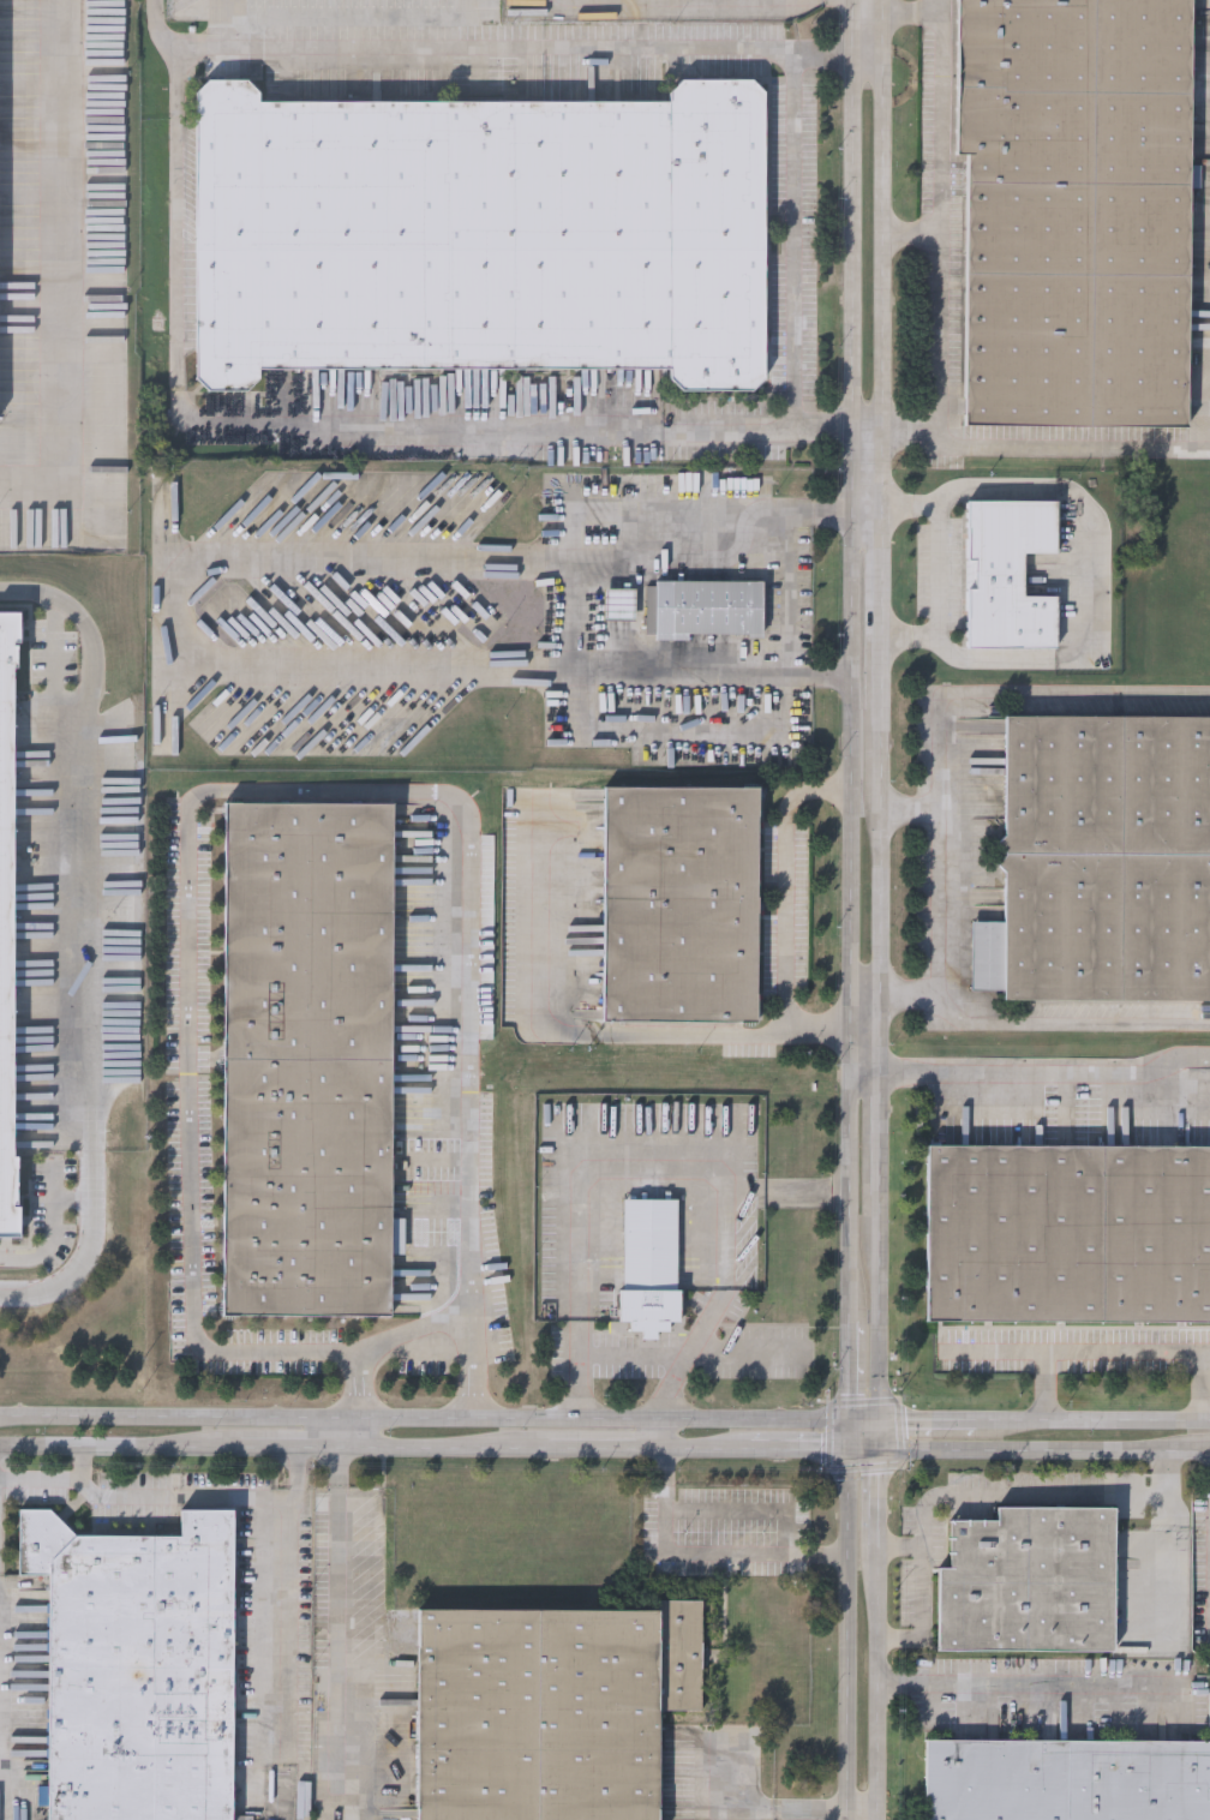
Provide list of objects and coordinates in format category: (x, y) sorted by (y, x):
road: (939, 6)
road: (227, 24)
road: (359, 48)
road: (670, 49)
road: (865, 58)
road: (938, 92)
road: (179, 191)
building: (1078, 212)
building: (478, 234)
road: (795, 245)
road: (59, 268)
road: (936, 324)
road: (865, 421)
road: (880, 424)
road: (407, 429)
road: (727, 433)
road: (1060, 447)
road: (744, 509)
road: (864, 509)
building: (706, 514)
road: (939, 571)
building: (1008, 575)
road: (1097, 581)
road: (795, 588)
building: (708, 610)
road: (185, 611)
road: (598, 655)
road: (598, 688)
road: (1084, 694)
road: (849, 713)
road: (718, 717)
road: (242, 795)
building: (1109, 869)
road: (956, 874)
building: (681, 903)
road: (787, 915)
building: (7, 942)
road: (90, 944)
road: (1061, 1019)
road: (865, 1028)
road: (555, 1032)
building: (305, 1056)
road: (1046, 1073)
road: (879, 1137)
road: (665, 1153)
road: (715, 1246)
building: (1070, 1246)
building: (651, 1268)
road: (576, 1288)
road: (743, 1347)
road: (1122, 1352)
road: (419, 1353)
road: (1095, 1423)
road: (424, 1424)
road: (929, 1425)
traffic signals: (850, 1426)
road: (864, 1426)
traffic signals: (880, 1426)
road: (330, 1433)
road: (660, 1437)
road: (880, 1439)
road: (286, 1443)
road: (120, 1444)
road: (439, 1445)
road: (605, 1448)
road: (706, 1449)
road: (815, 1450)
traffic signals: (850, 1451)
road: (1044, 1451)
traffic signals: (880, 1453)
road: (1167, 1473)
road: (56, 1479)
road: (211, 1495)
road: (978, 1496)
road: (901, 1546)
road: (750, 1550)
road: (814, 1550)
building: (1030, 1580)
road: (847, 1623)
road: (330, 1630)
road: (879, 1635)
road: (899, 1641)
road: (280, 1653)
building: (138, 1666)
road: (1031, 1683)
building: (550, 1708)
building: (1066, 1780)
road: (748, 1808)
road: (863, 1810)

